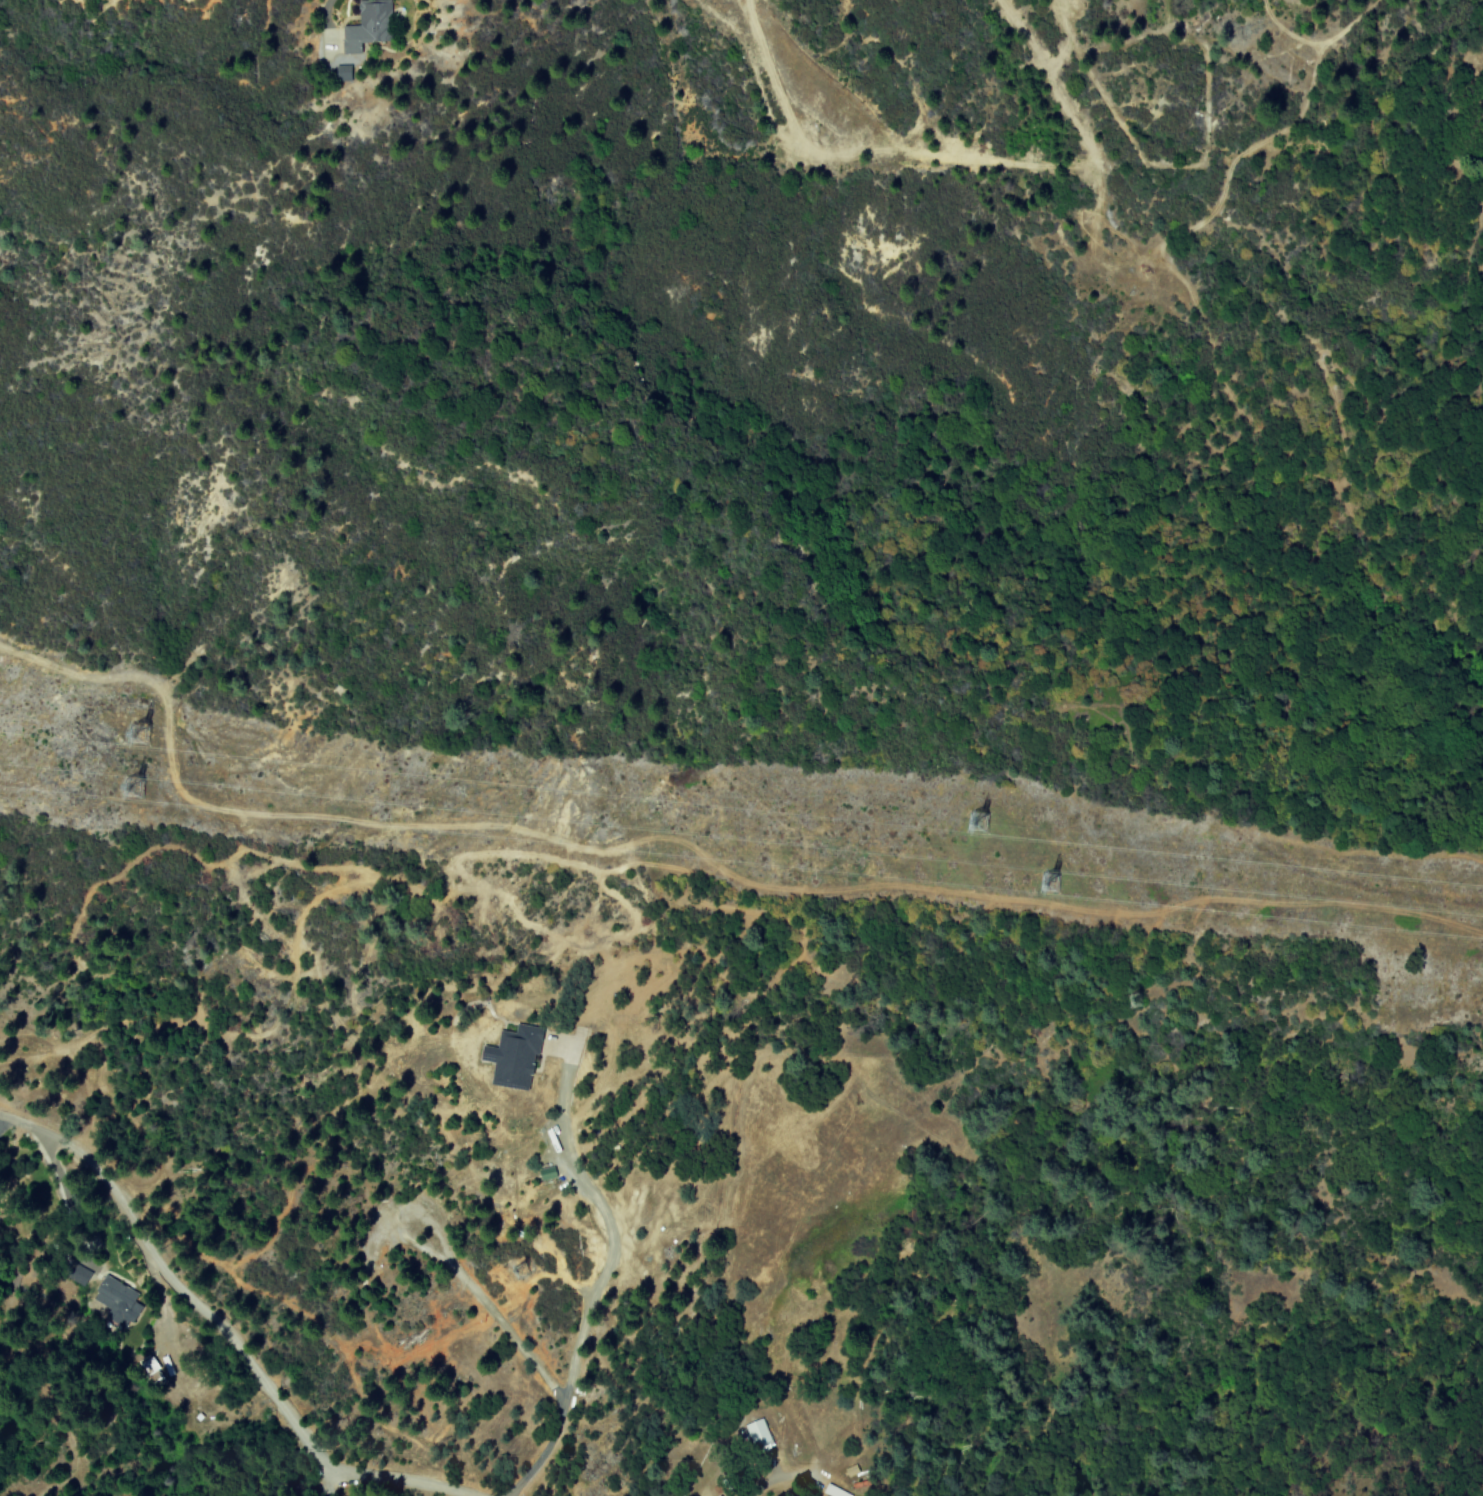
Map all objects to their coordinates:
road: (324, 7)
building: (366, 25)
building: (339, 74)
power tower: (132, 733)
power tower: (138, 787)
power tower: (973, 820)
power tower: (1046, 882)
power tower: (1135, 998)
building: (512, 1056)
road: (574, 1171)
building: (75, 1272)
power tower: (521, 1274)
road: (483, 1301)
building: (113, 1302)
road: (219, 1338)
building: (758, 1435)
building: (850, 1470)

